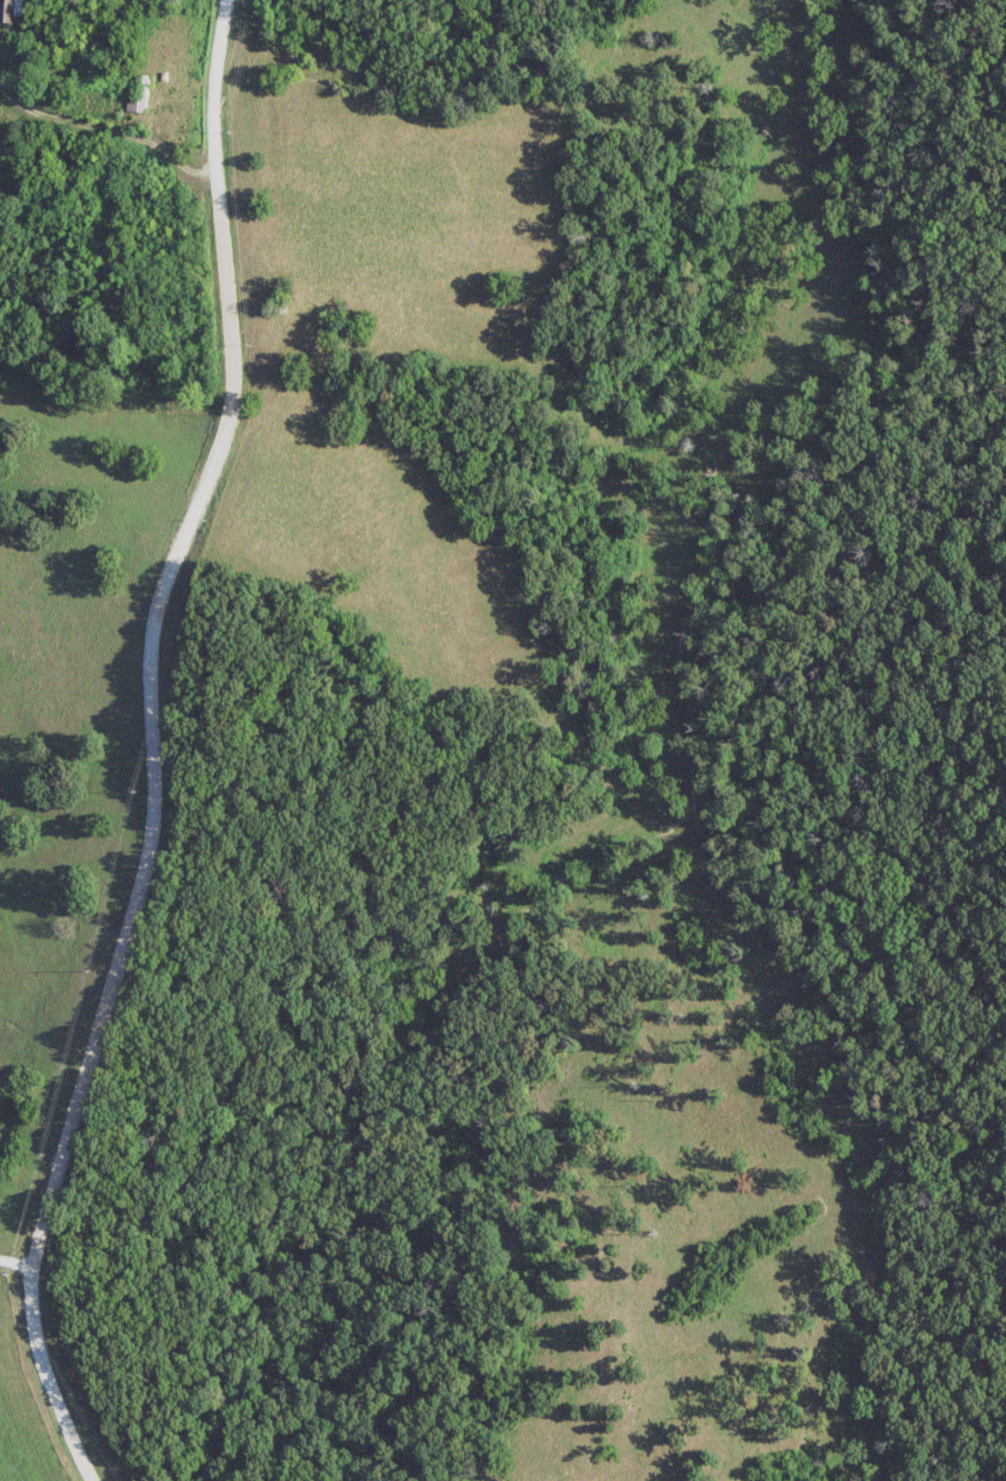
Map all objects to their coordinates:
building: (6, 10)
building: (139, 97)
road: (113, 129)
road: (151, 746)
road: (17, 1262)

